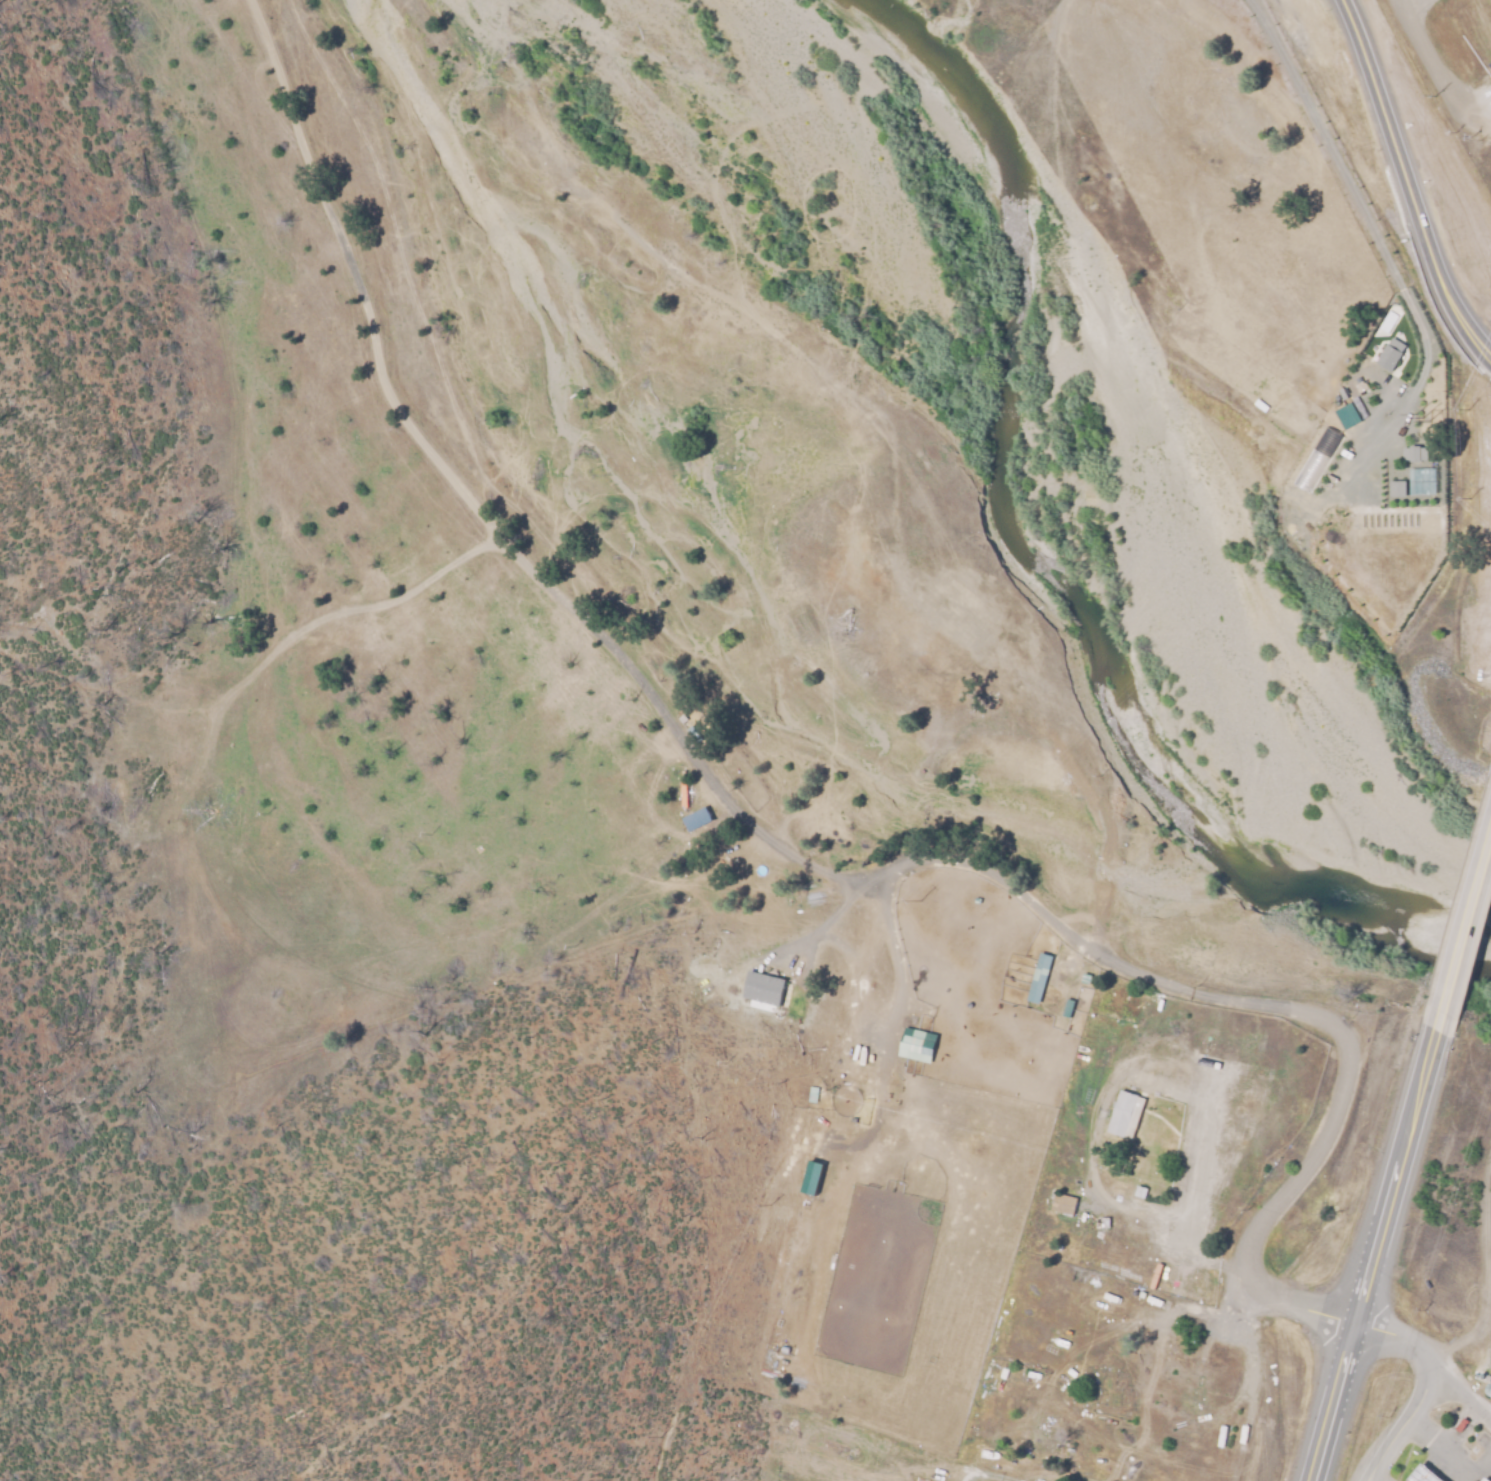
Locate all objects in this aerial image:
road: (1416, 10)
road: (1431, 65)
road: (421, 177)
road: (1411, 177)
building: (1389, 357)
building: (1346, 416)
road: (891, 439)
building: (1413, 453)
building: (1397, 488)
building: (168, 675)
building: (172, 739)
building: (698, 819)
road: (774, 839)
road: (227, 924)
road: (1465, 928)
building: (1039, 977)
building: (779, 989)
building: (1068, 1008)
building: (917, 1044)
crop: (1490, 1093)
building: (1125, 1113)
building: (813, 1178)
building: (1064, 1202)
road: (1375, 1249)
road: (1485, 1281)
road: (1453, 1341)
building: (1155, 1355)
building: (1222, 1358)
building: (1170, 1385)
water tower: (1490, 1388)
road: (1419, 1390)
road: (1456, 1397)
building: (1036, 1428)
building: (1424, 1473)
building: (1484, 1479)
road: (1367, 1480)

